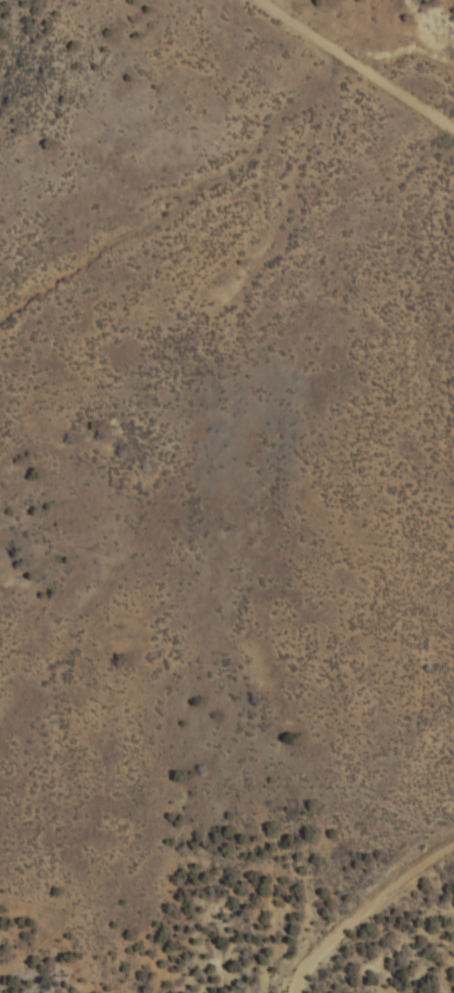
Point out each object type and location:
road: (355, 72)

